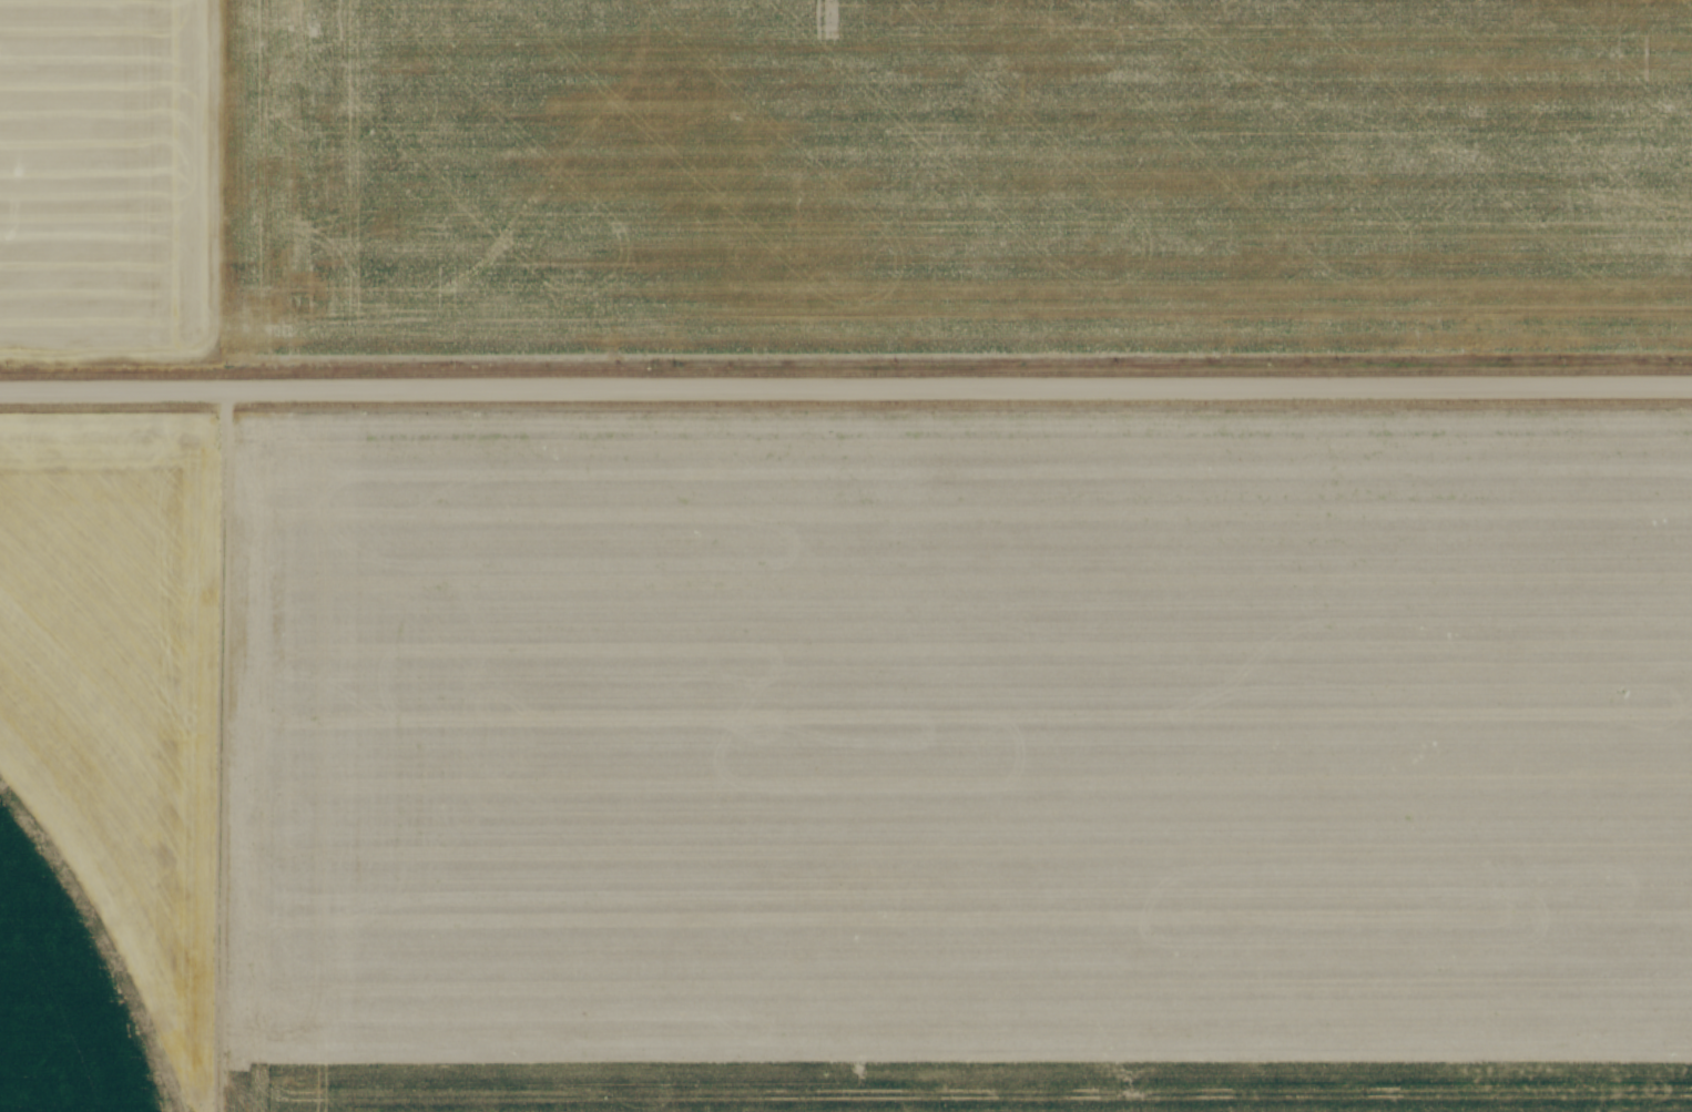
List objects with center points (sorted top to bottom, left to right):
crop: (840, 180)
road: (846, 388)
crop: (847, 765)

